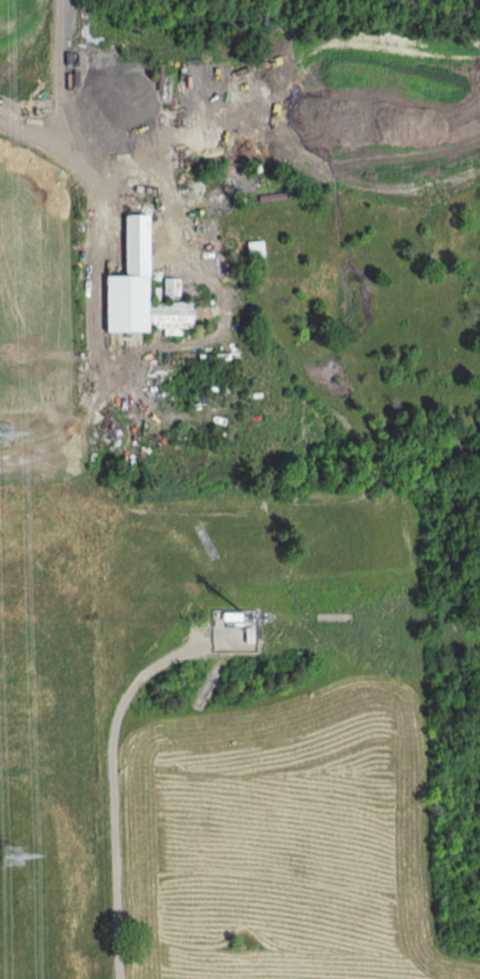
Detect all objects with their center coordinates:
road: (61, 76)
road: (42, 144)
building: (261, 189)
building: (254, 249)
building: (170, 286)
building: (138, 288)
building: (233, 614)
building: (251, 633)
road: (199, 635)
road: (112, 784)
power tower: (10, 855)

